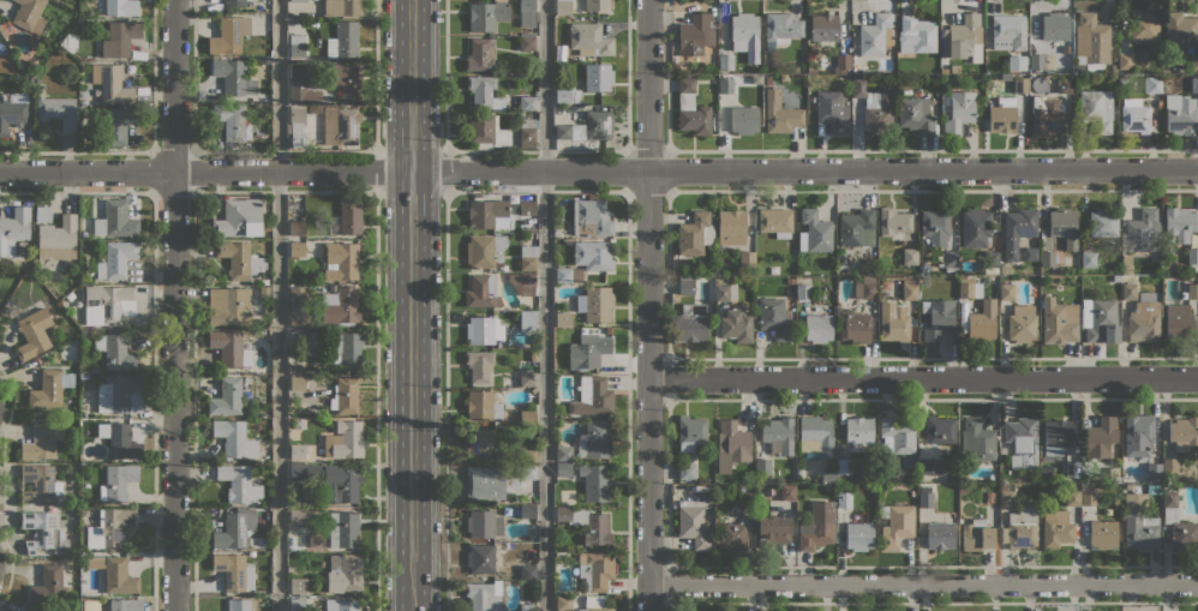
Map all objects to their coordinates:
building: (296, 1)
building: (234, 2)
building: (597, 5)
building: (115, 7)
building: (342, 7)
building: (563, 7)
building: (527, 13)
building: (29, 14)
building: (486, 14)
building: (1054, 25)
building: (1143, 25)
building: (823, 26)
building: (1179, 28)
building: (779, 29)
building: (1007, 31)
building: (917, 32)
building: (526, 34)
building: (229, 35)
building: (694, 35)
building: (744, 35)
building: (875, 35)
building: (119, 38)
building: (588, 38)
building: (962, 38)
building: (1091, 38)
building: (342, 41)
building: (526, 42)
building: (296, 44)
building: (1032, 46)
building: (814, 50)
building: (1053, 50)
building: (480, 55)
building: (1036, 60)
building: (1125, 60)
building: (1194, 60)
building: (725, 61)
building: (843, 61)
building: (1016, 62)
building: (1083, 62)
building: (810, 68)
building: (954, 68)
building: (944, 71)
road: (376, 73)
road: (445, 74)
building: (598, 76)
building: (233, 77)
building: (783, 77)
building: (1122, 79)
building: (348, 80)
building: (767, 80)
building: (904, 80)
building: (110, 83)
building: (1020, 84)
building: (1151, 84)
building: (1194, 84)
building: (725, 85)
building: (1065, 85)
building: (300, 88)
building: (483, 92)
building: (567, 96)
building: (1158, 102)
building: (527, 103)
building: (875, 106)
building: (690, 109)
building: (1096, 109)
building: (58, 110)
building: (832, 110)
building: (959, 110)
building: (779, 113)
building: (11, 114)
building: (915, 114)
building: (1002, 114)
building: (1047, 114)
building: (1133, 115)
building: (1181, 116)
building: (743, 119)
building: (232, 120)
building: (118, 124)
building: (340, 125)
building: (295, 126)
building: (587, 127)
building: (486, 130)
building: (527, 132)
road: (379, 167)
road: (445, 169)
road: (598, 169)
building: (525, 209)
building: (486, 211)
building: (42, 214)
building: (349, 216)
building: (239, 217)
building: (588, 218)
building: (115, 220)
building: (775, 221)
building: (893, 221)
building: (1103, 222)
building: (1179, 223)
building: (935, 224)
building: (268, 226)
building: (1064, 226)
building: (731, 227)
building: (857, 227)
building: (975, 227)
building: (296, 228)
building: (528, 228)
building: (1018, 228)
building: (13, 229)
building: (1142, 230)
building: (814, 232)
building: (694, 233)
building: (58, 238)
building: (296, 248)
building: (484, 250)
building: (1029, 253)
building: (592, 254)
building: (910, 256)
building: (1192, 256)
building: (528, 257)
building: (747, 258)
building: (1047, 258)
building: (1088, 258)
building: (116, 259)
building: (240, 259)
building: (950, 259)
building: (341, 260)
building: (992, 260)
building: (1126, 264)
building: (1005, 268)
building: (773, 269)
building: (567, 274)
building: (1116, 278)
building: (790, 280)
building: (522, 282)
building: (685, 284)
building: (331, 287)
building: (864, 287)
building: (969, 287)
building: (803, 290)
building: (909, 290)
building: (1006, 290)
building: (1128, 290)
building: (1192, 290)
building: (264, 292)
building: (481, 292)
building: (725, 292)
building: (68, 295)
building: (108, 304)
building: (595, 304)
road: (174, 305)
building: (228, 305)
road: (278, 305)
building: (298, 305)
road: (412, 305)
road: (545, 305)
road: (648, 305)
building: (340, 306)
building: (774, 317)
building: (938, 318)
building: (1144, 318)
building: (563, 319)
building: (982, 319)
building: (1056, 321)
building: (1098, 321)
building: (527, 322)
building: (690, 322)
building: (893, 322)
building: (1022, 323)
building: (1179, 323)
building: (735, 324)
building: (853, 325)
building: (817, 327)
building: (485, 331)
building: (34, 333)
building: (296, 339)
building: (229, 347)
building: (345, 349)
building: (588, 349)
building: (115, 351)
building: (533, 353)
building: (479, 365)
road: (923, 377)
building: (527, 378)
building: (246, 379)
building: (296, 383)
building: (50, 388)
building: (120, 394)
building: (345, 396)
building: (592, 396)
building: (227, 397)
road: (376, 399)
road: (447, 400)
building: (481, 405)
building: (527, 418)
building: (516, 419)
building: (299, 423)
building: (858, 430)
building: (939, 430)
building: (1182, 432)
building: (691, 433)
building: (778, 435)
building: (815, 435)
building: (897, 435)
building: (594, 436)
building: (1055, 436)
building: (1101, 436)
building: (234, 438)
building: (976, 439)
building: (42, 441)
building: (343, 441)
building: (121, 442)
building: (1022, 442)
building: (1139, 442)
building: (731, 444)
building: (486, 445)
building: (296, 450)
building: (563, 453)
building: (527, 455)
building: (762, 466)
building: (844, 466)
building: (1169, 467)
building: (562, 468)
building: (929, 468)
building: (1072, 468)
building: (296, 472)
building: (527, 472)
building: (685, 472)
building: (828, 475)
building: (1113, 475)
building: (116, 481)
building: (238, 481)
building: (594, 481)
building: (341, 483)
building: (484, 483)
building: (38, 484)
building: (962, 489)
building: (786, 492)
building: (988, 496)
building: (1005, 496)
building: (1072, 497)
building: (1088, 497)
building: (745, 499)
building: (844, 499)
building: (926, 499)
building: (527, 510)
building: (296, 516)
building: (479, 522)
building: (1139, 522)
building: (1178, 522)
building: (691, 523)
building: (587, 525)
building: (816, 526)
building: (897, 526)
building: (1020, 527)
building: (109, 528)
building: (342, 528)
building: (1056, 528)
building: (772, 531)
building: (43, 532)
building: (230, 532)
building: (858, 533)
building: (939, 534)
building: (976, 534)
building: (1102, 534)
building: (731, 535)
building: (481, 558)
building: (94, 562)
building: (595, 570)
building: (234, 571)
building: (346, 573)
building: (527, 573)
building: (119, 576)
road: (923, 583)
building: (49, 585)
building: (299, 585)
building: (484, 595)
building: (592, 600)
building: (563, 603)
building: (125, 604)
building: (238, 605)
building: (296, 605)
building: (340, 605)
building: (527, 607)
building: (23, 609)
building: (593, 609)

